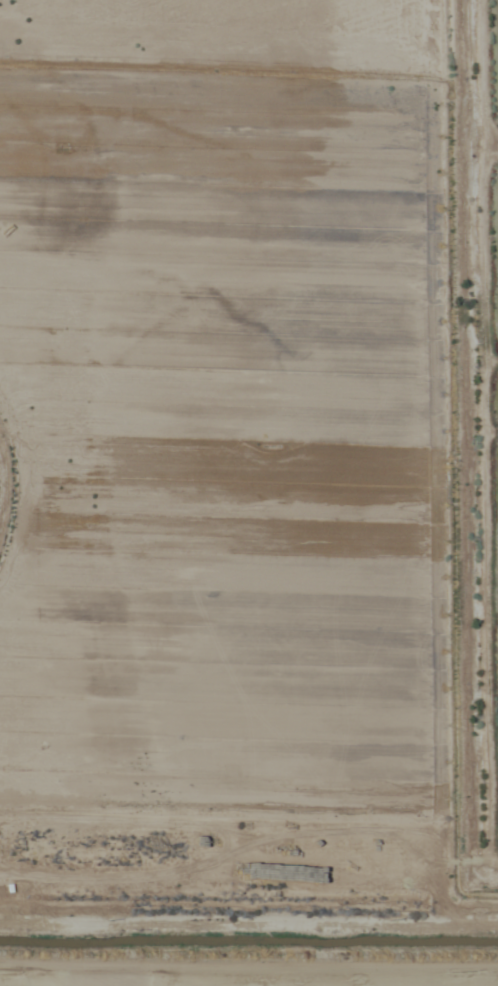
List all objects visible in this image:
road: (16, 486)
road: (249, 961)

